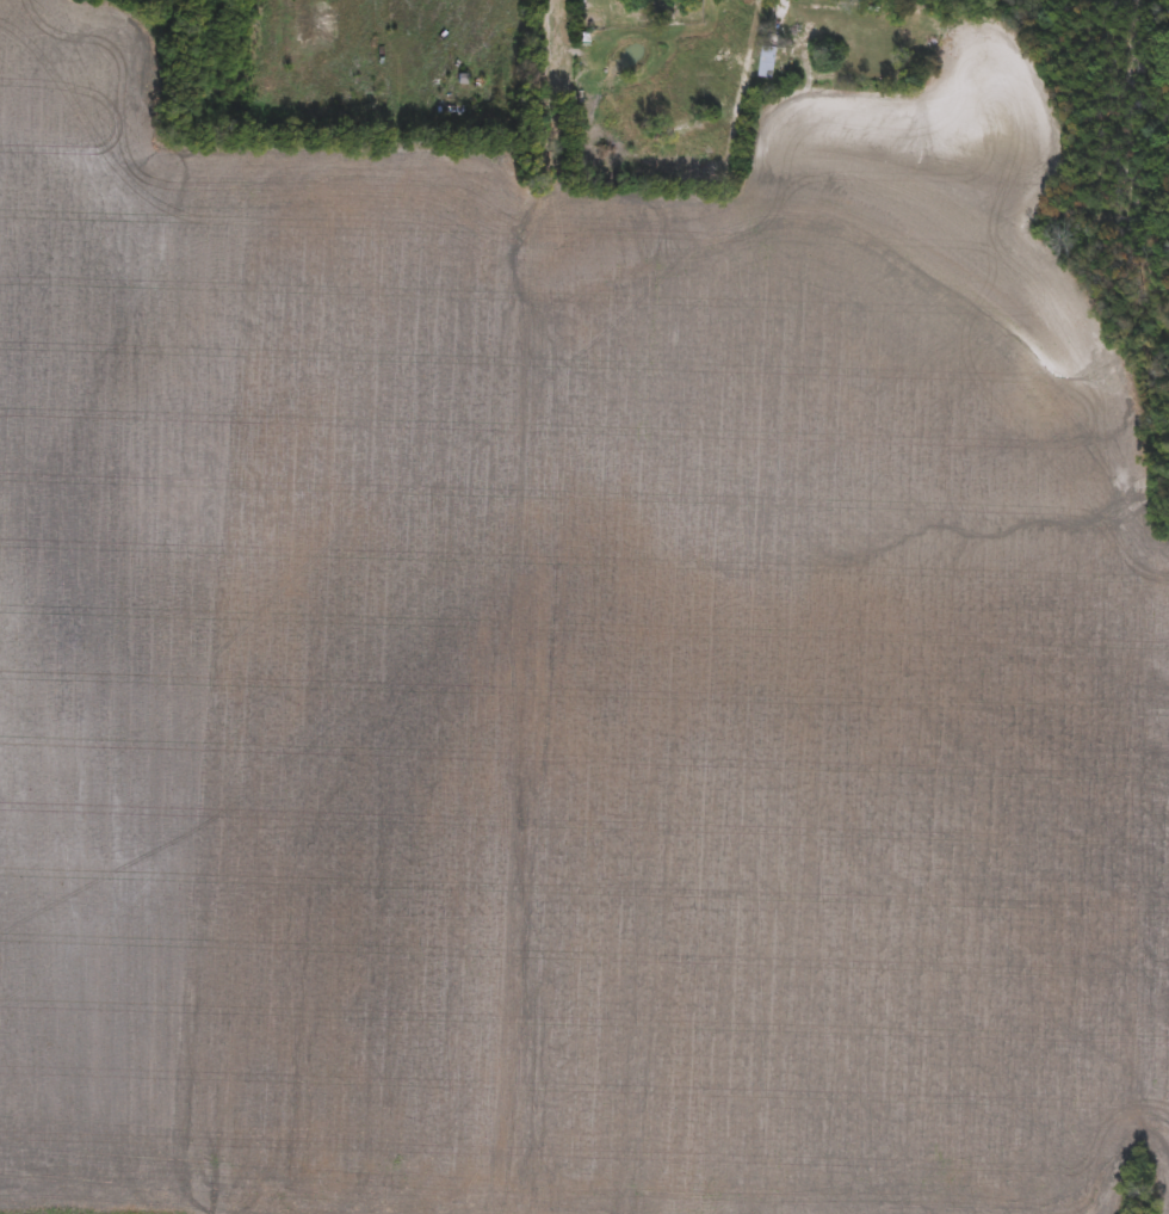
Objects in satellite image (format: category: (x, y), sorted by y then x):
building: (766, 64)

